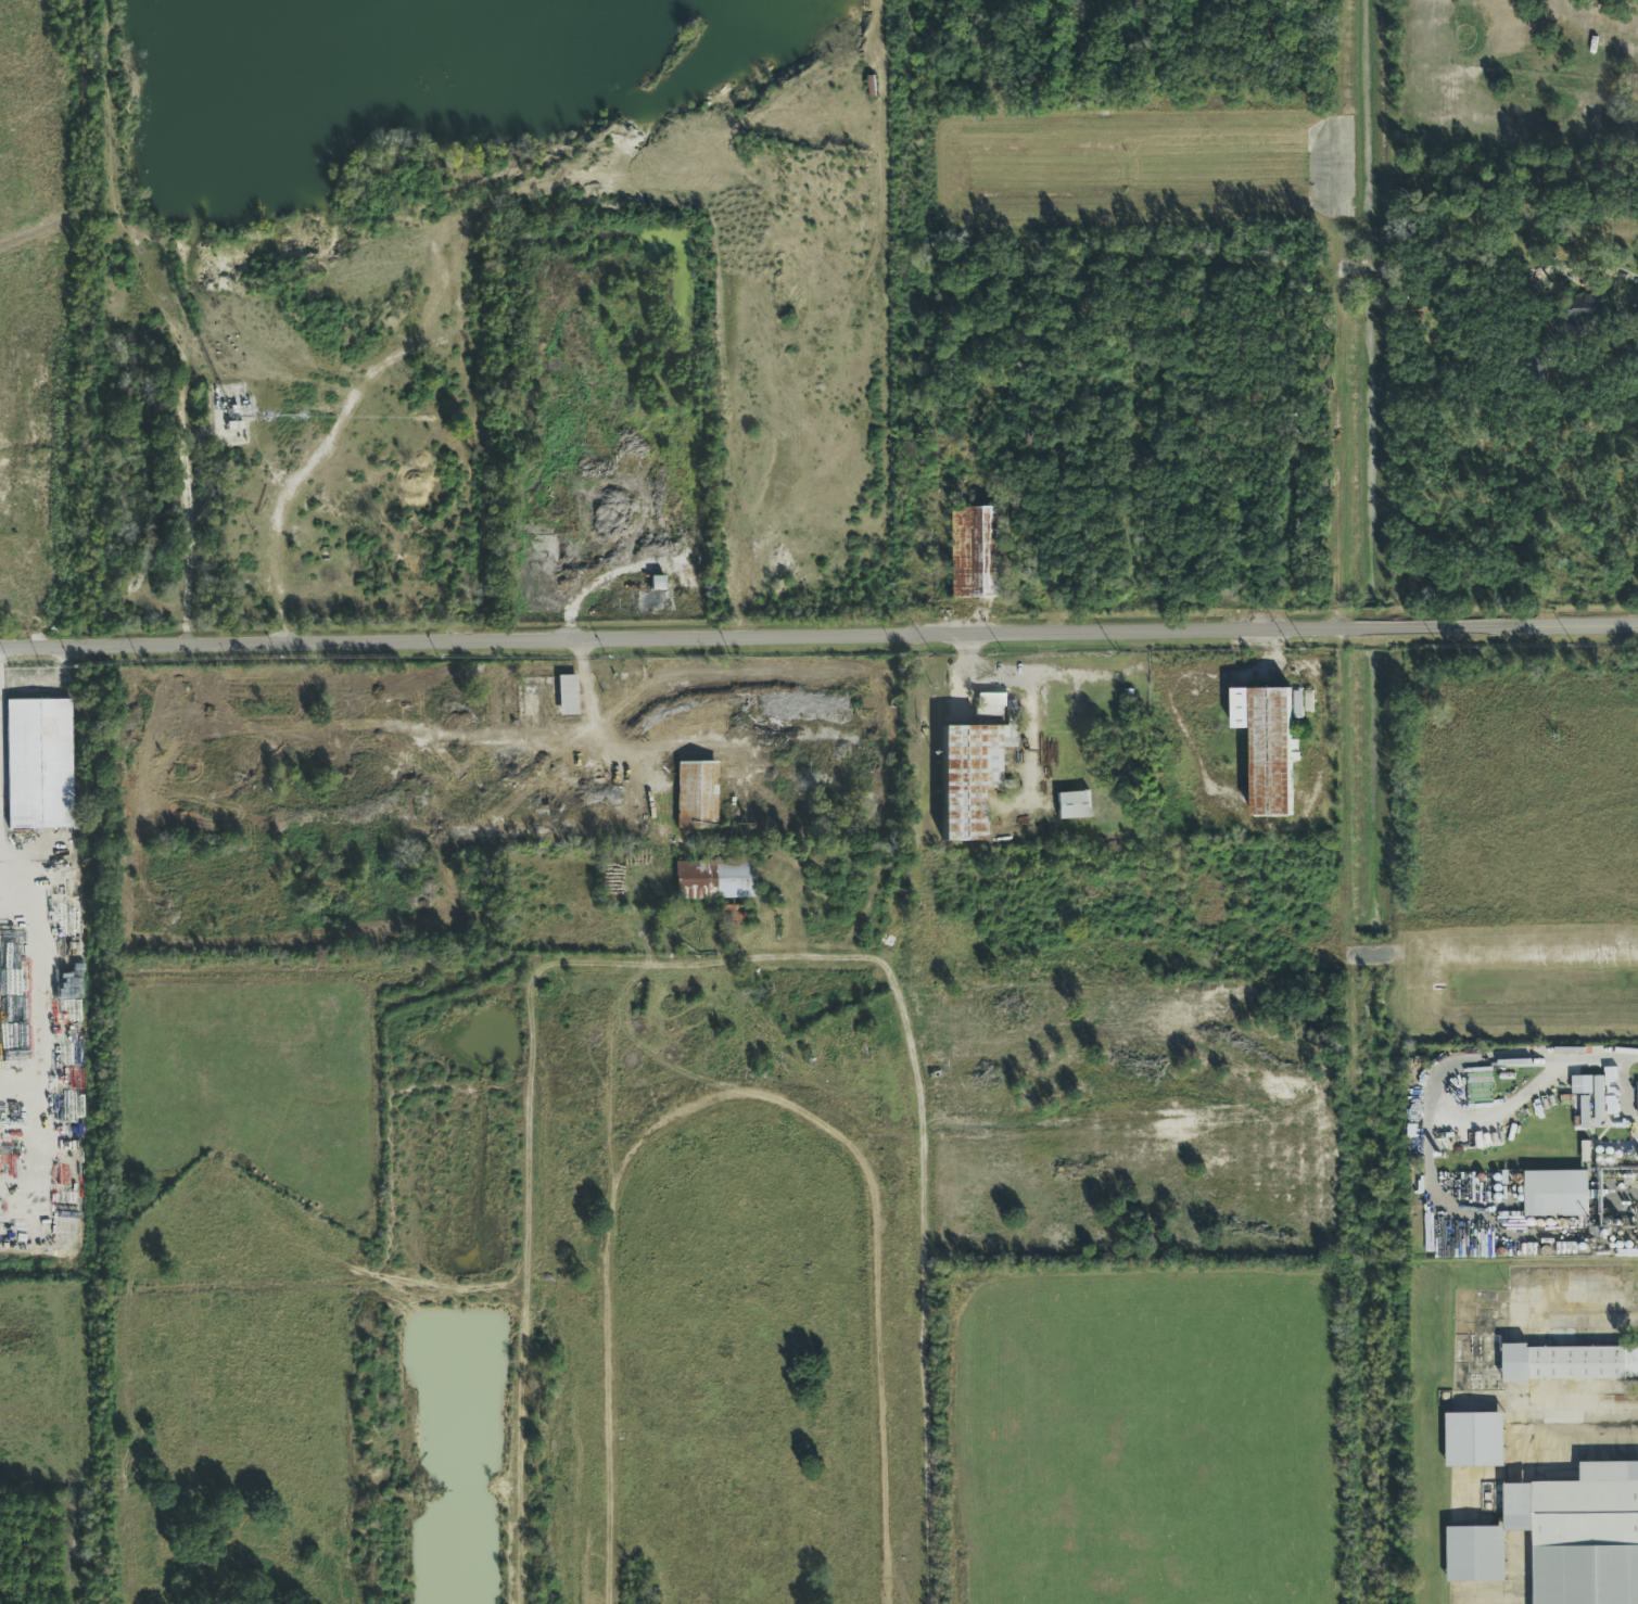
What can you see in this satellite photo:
building: (1587, 308)
road: (300, 475)
road: (188, 538)
building: (980, 552)
building: (657, 583)
building: (653, 598)
road: (860, 636)
road: (41, 647)
road: (1029, 686)
building: (567, 696)
building: (1309, 700)
building: (1267, 747)
building: (972, 766)
building: (38, 769)
building: (503, 782)
building: (696, 786)
road: (1357, 802)
building: (1072, 805)
building: (714, 879)
building: (1482, 954)
road: (40, 1045)
road: (1511, 1059)
building: (1583, 1085)
building: (1637, 1099)
building: (1600, 1102)
road: (534, 1115)
road: (86, 1125)
building: (1557, 1195)
road: (930, 1282)
road: (1584, 1300)
building: (1571, 1363)
road: (1589, 1409)
building: (1475, 1440)
building: (1563, 1538)

